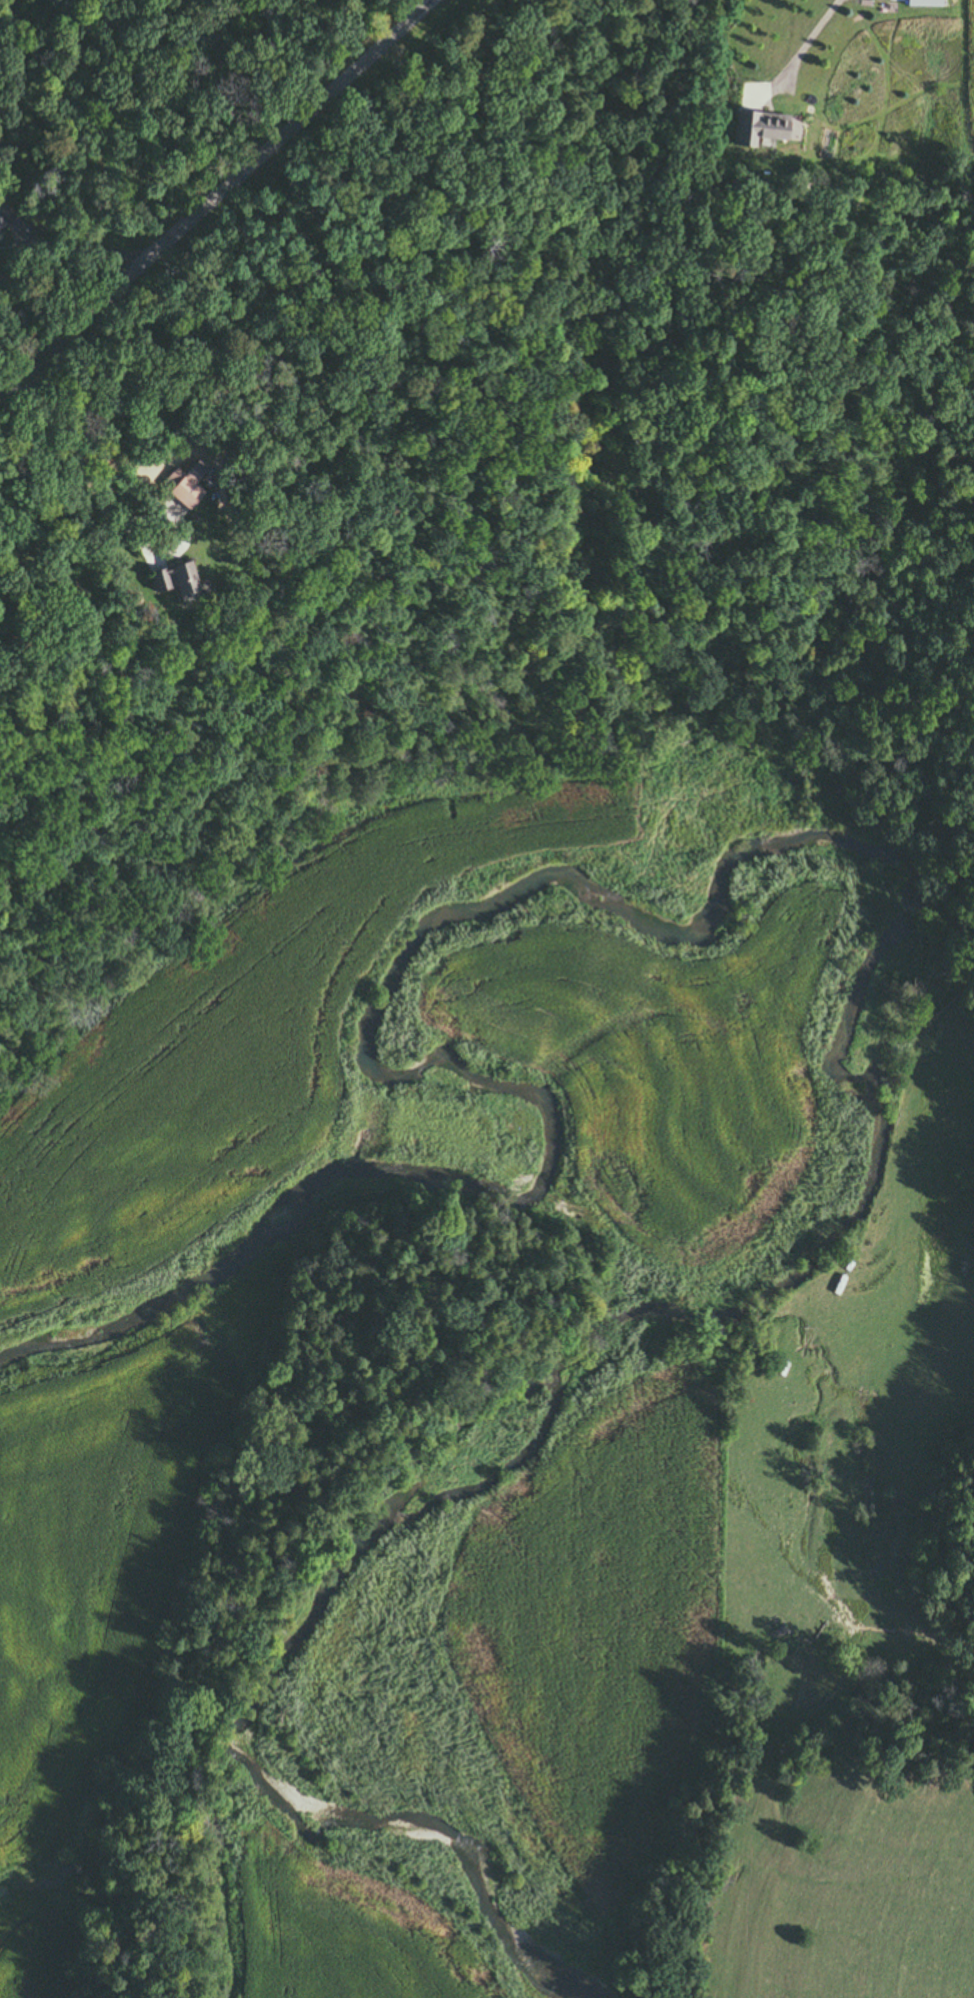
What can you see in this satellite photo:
building: (922, 3)
road: (800, 53)
building: (768, 130)
road: (216, 196)
building: (1, 224)
road: (64, 254)
building: (178, 485)
road: (111, 520)
building: (170, 581)

